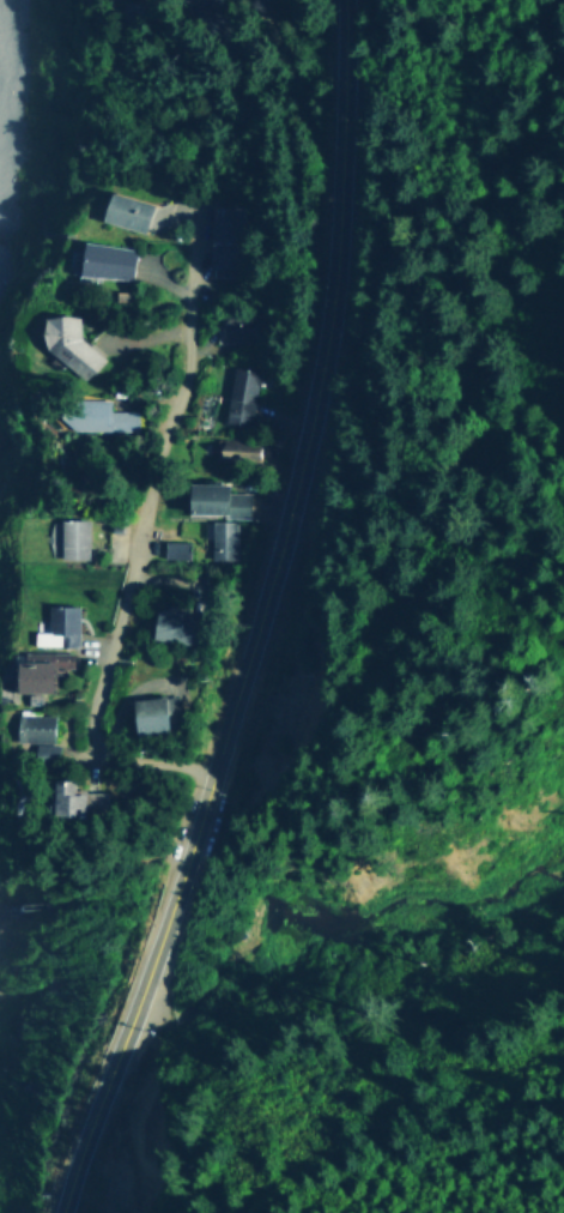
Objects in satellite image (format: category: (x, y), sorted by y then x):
building: (126, 211)
building: (219, 246)
building: (108, 260)
building: (73, 343)
building: (238, 396)
building: (101, 415)
building: (238, 448)
road: (302, 457)
building: (212, 499)
road: (140, 533)
building: (77, 537)
building: (222, 538)
building: (172, 548)
building: (63, 626)
building: (168, 626)
building: (44, 669)
building: (148, 714)
building: (42, 726)
building: (81, 801)
road: (116, 1055)

